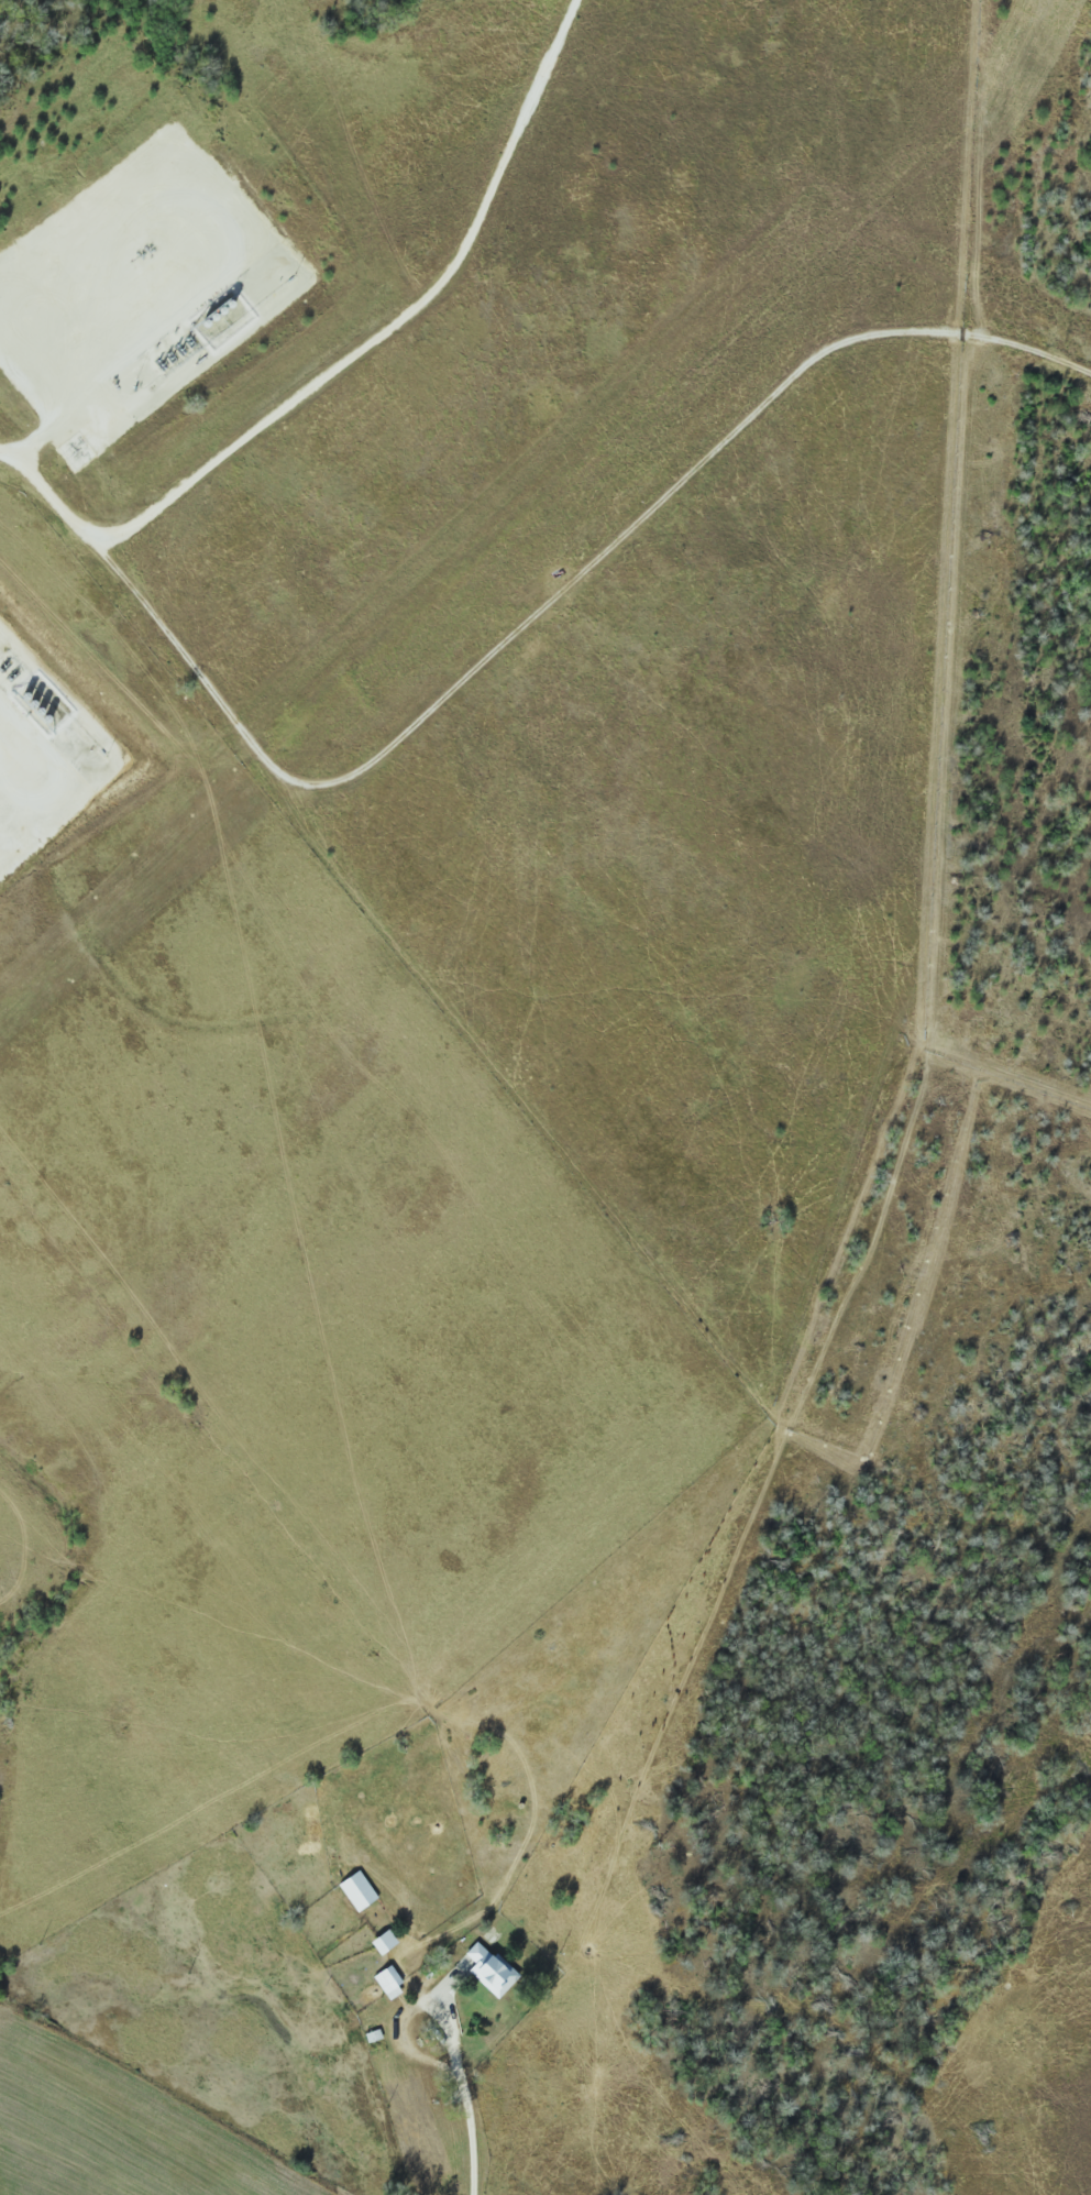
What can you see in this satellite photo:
road: (130, 323)
road: (346, 373)
road: (551, 610)
building: (361, 1891)
building: (494, 1971)
building: (392, 1983)
road: (462, 2101)

